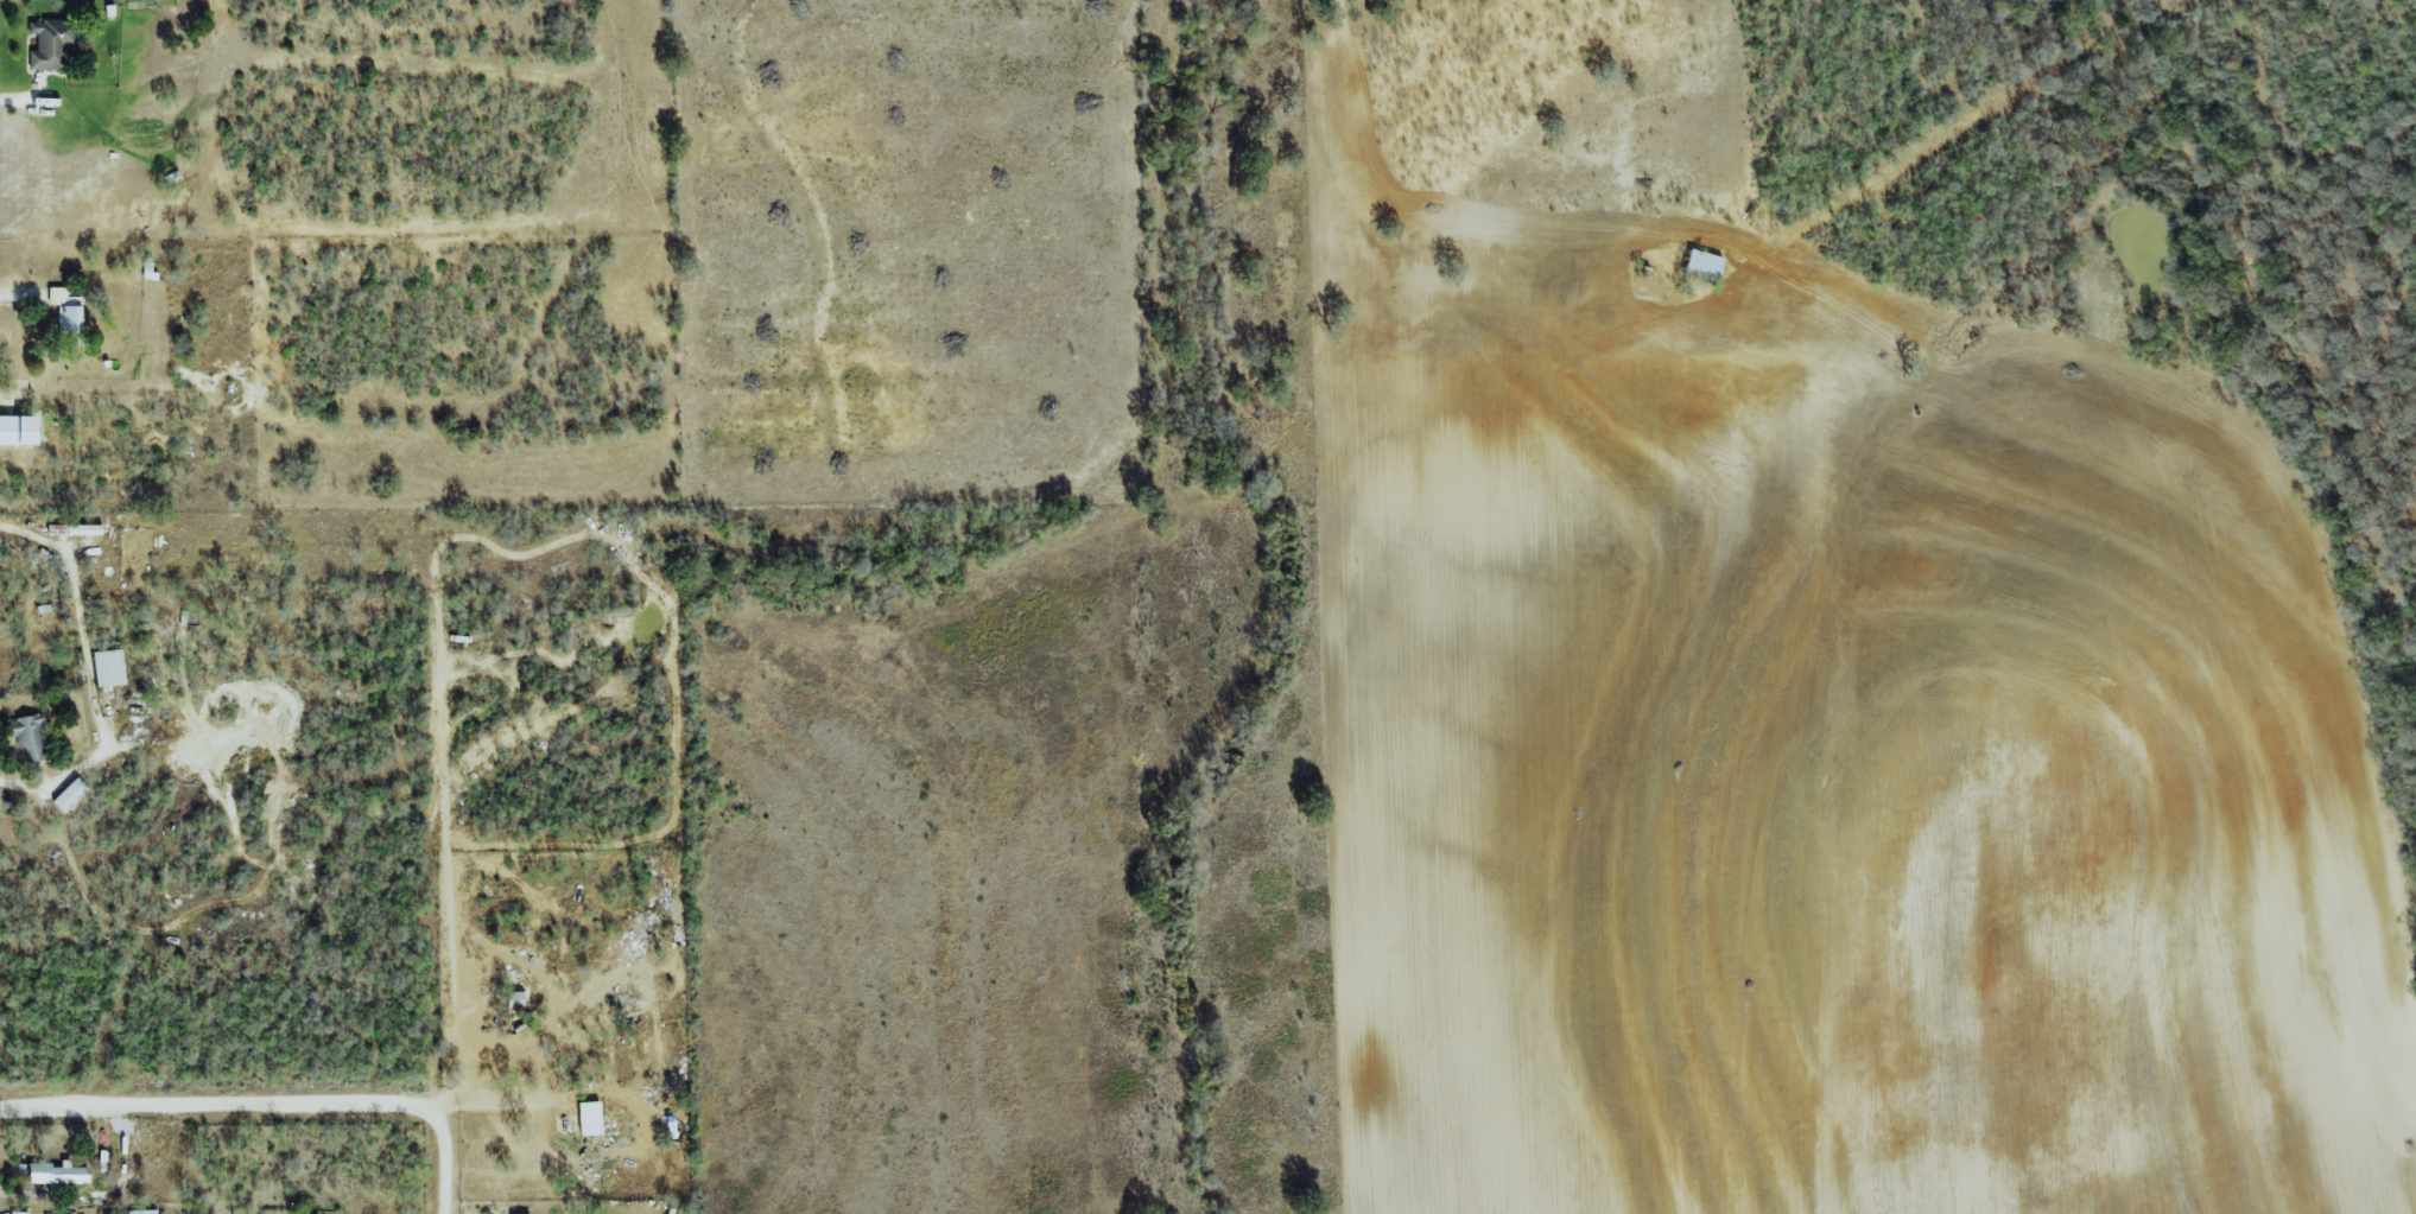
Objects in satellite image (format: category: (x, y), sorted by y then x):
building: (50, 44)
road: (14, 97)
building: (1702, 263)
road: (15, 303)
building: (65, 310)
building: (18, 431)
building: (82, 529)
building: (109, 668)
road: (87, 669)
building: (30, 737)
building: (70, 795)
building: (515, 999)
road: (493, 1100)
road: (268, 1107)
building: (589, 1118)
building: (57, 1174)
building: (590, 1180)
building: (142, 1212)
building: (19, 1213)

